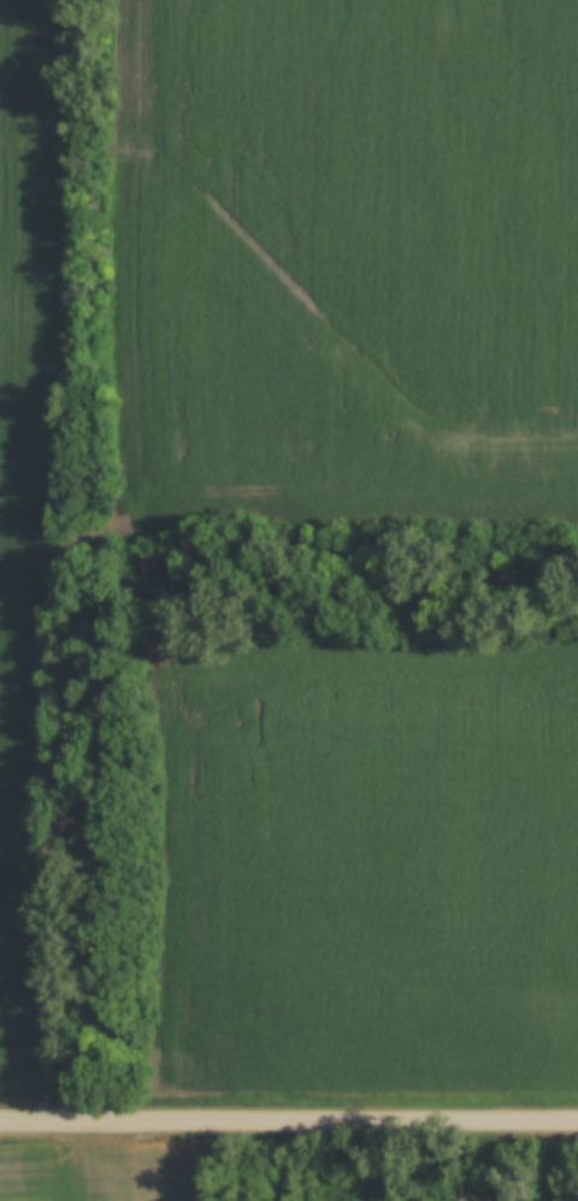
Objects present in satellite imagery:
road: (289, 1123)

